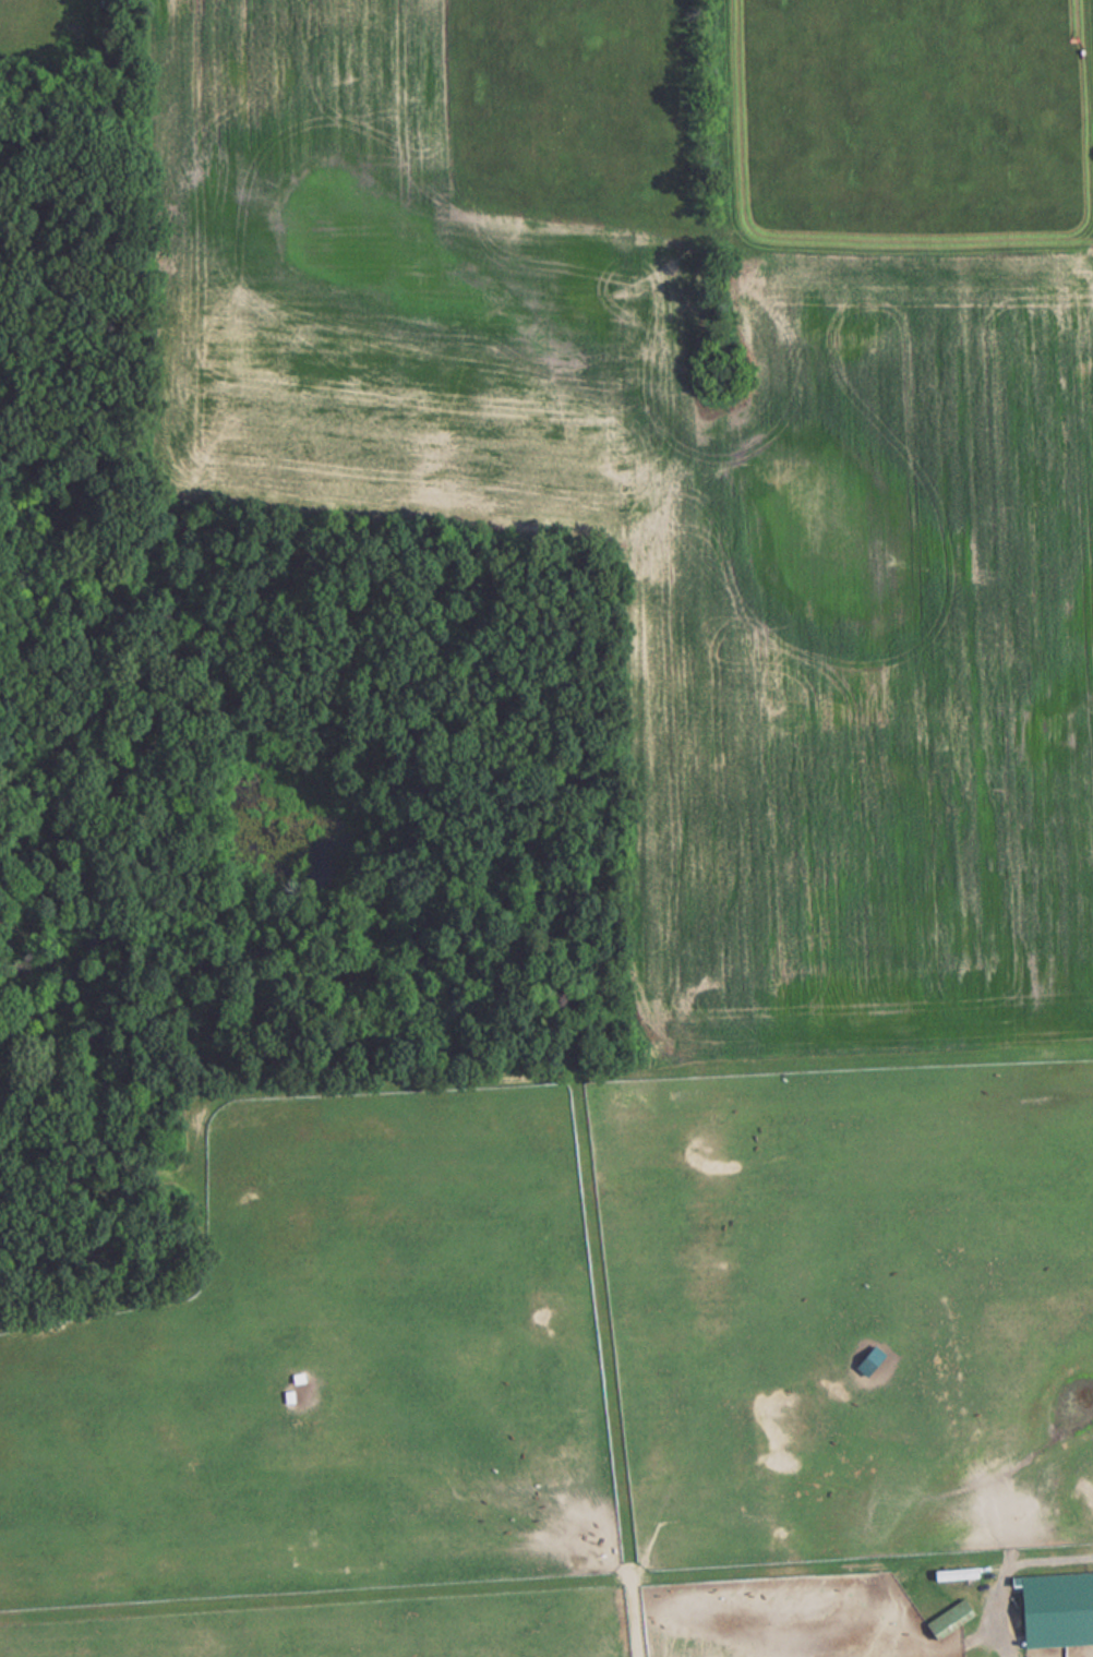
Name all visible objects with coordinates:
building: (292, 1395)
road: (1005, 1569)
building: (1055, 1614)

